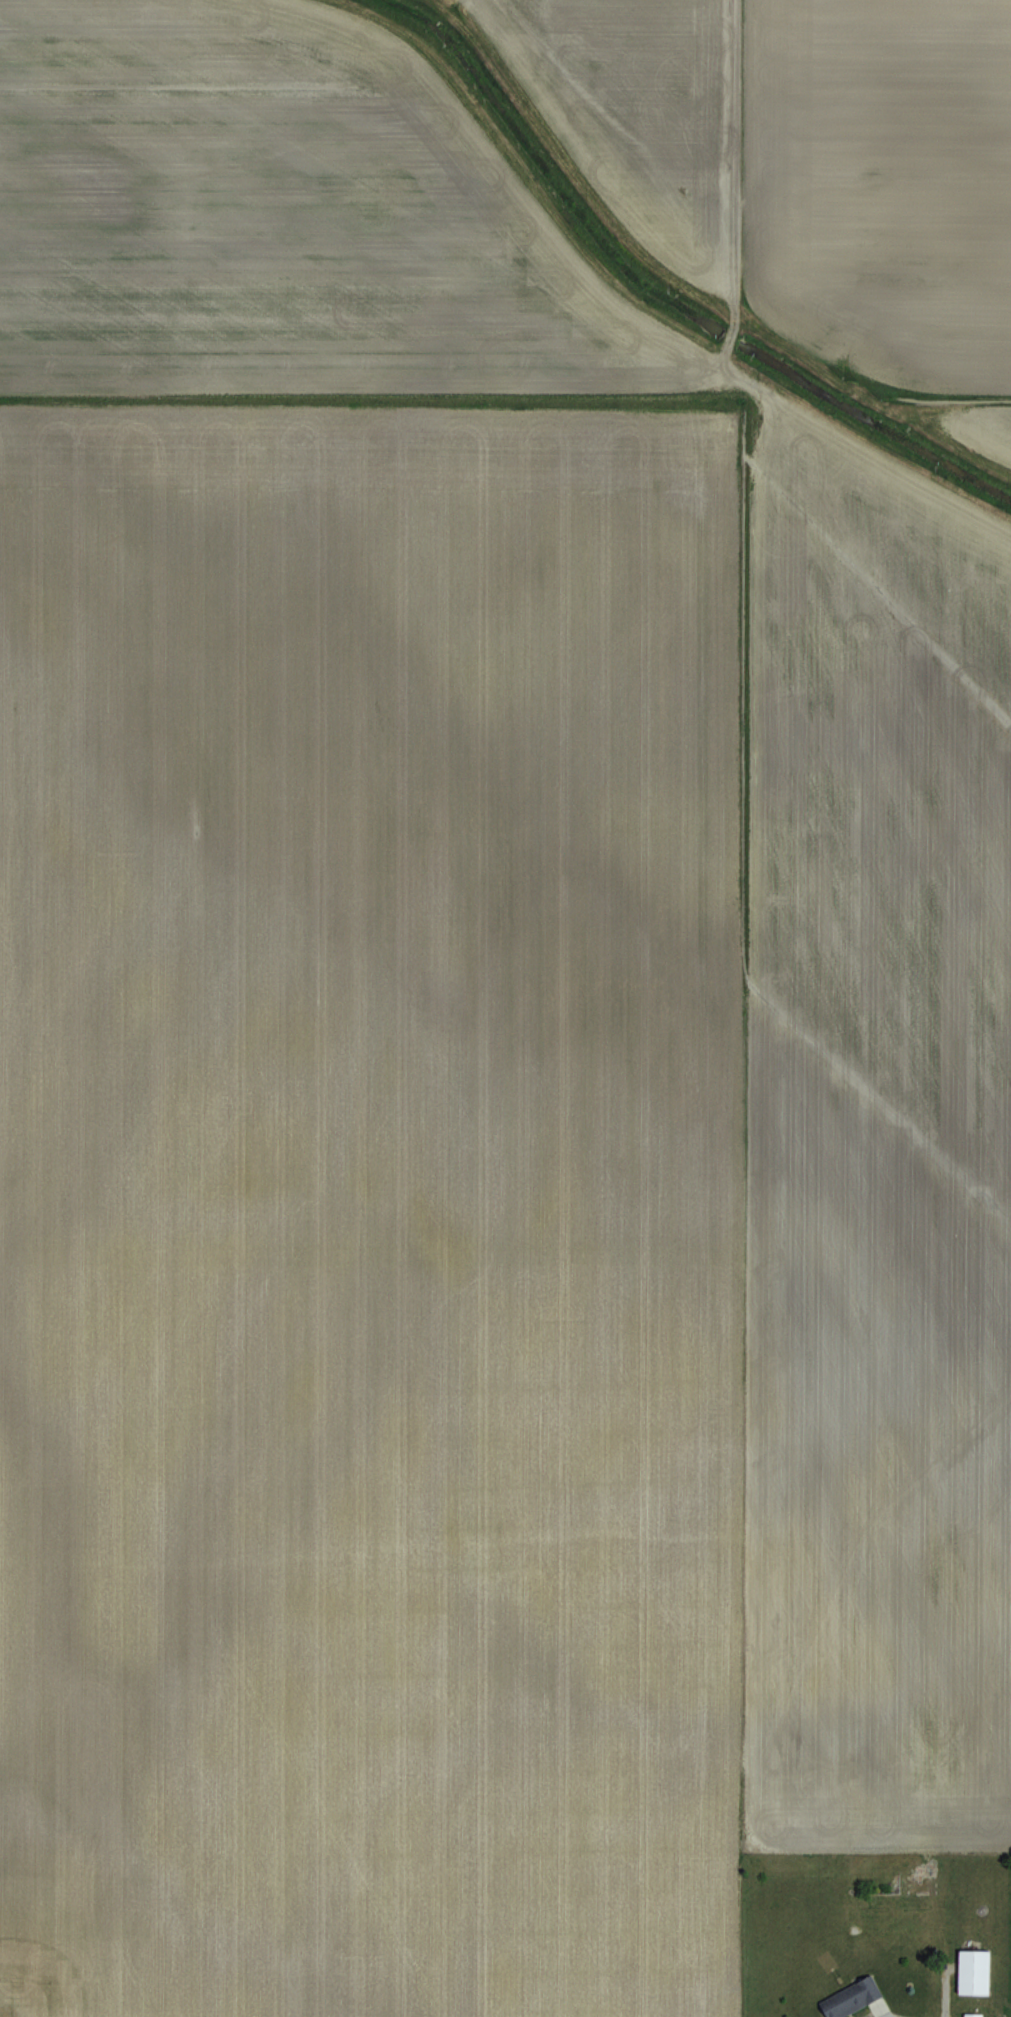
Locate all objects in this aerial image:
road: (940, 1998)

